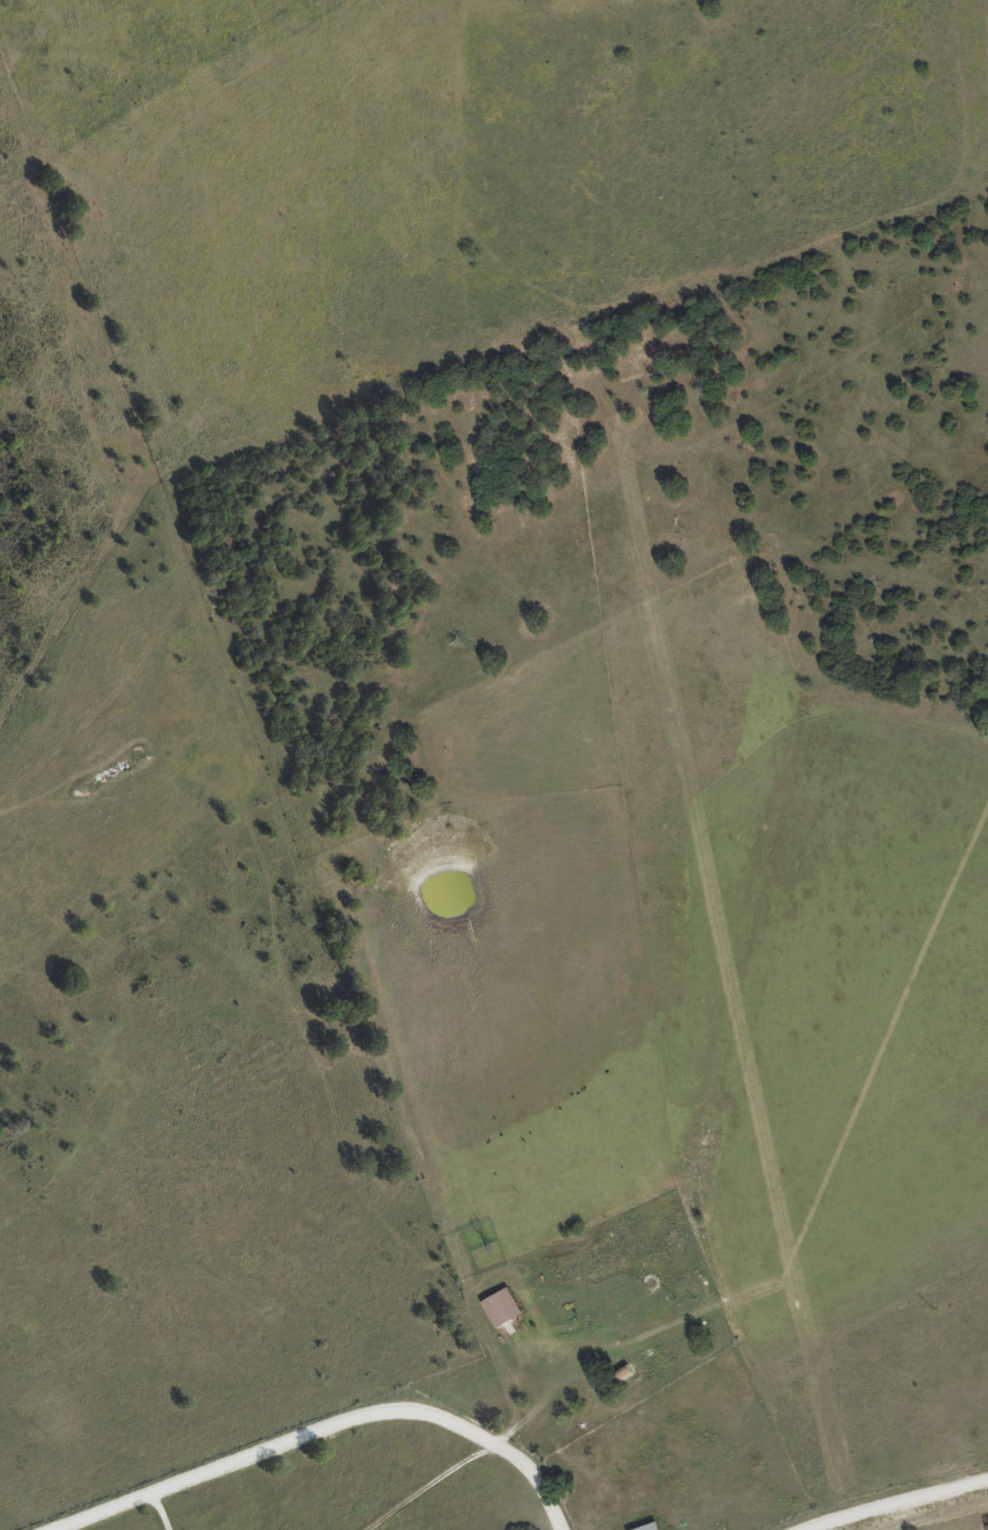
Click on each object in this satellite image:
building: (506, 1307)
road: (314, 1428)
road: (423, 1487)
road: (897, 1504)
road: (153, 1510)
building: (654, 1526)

